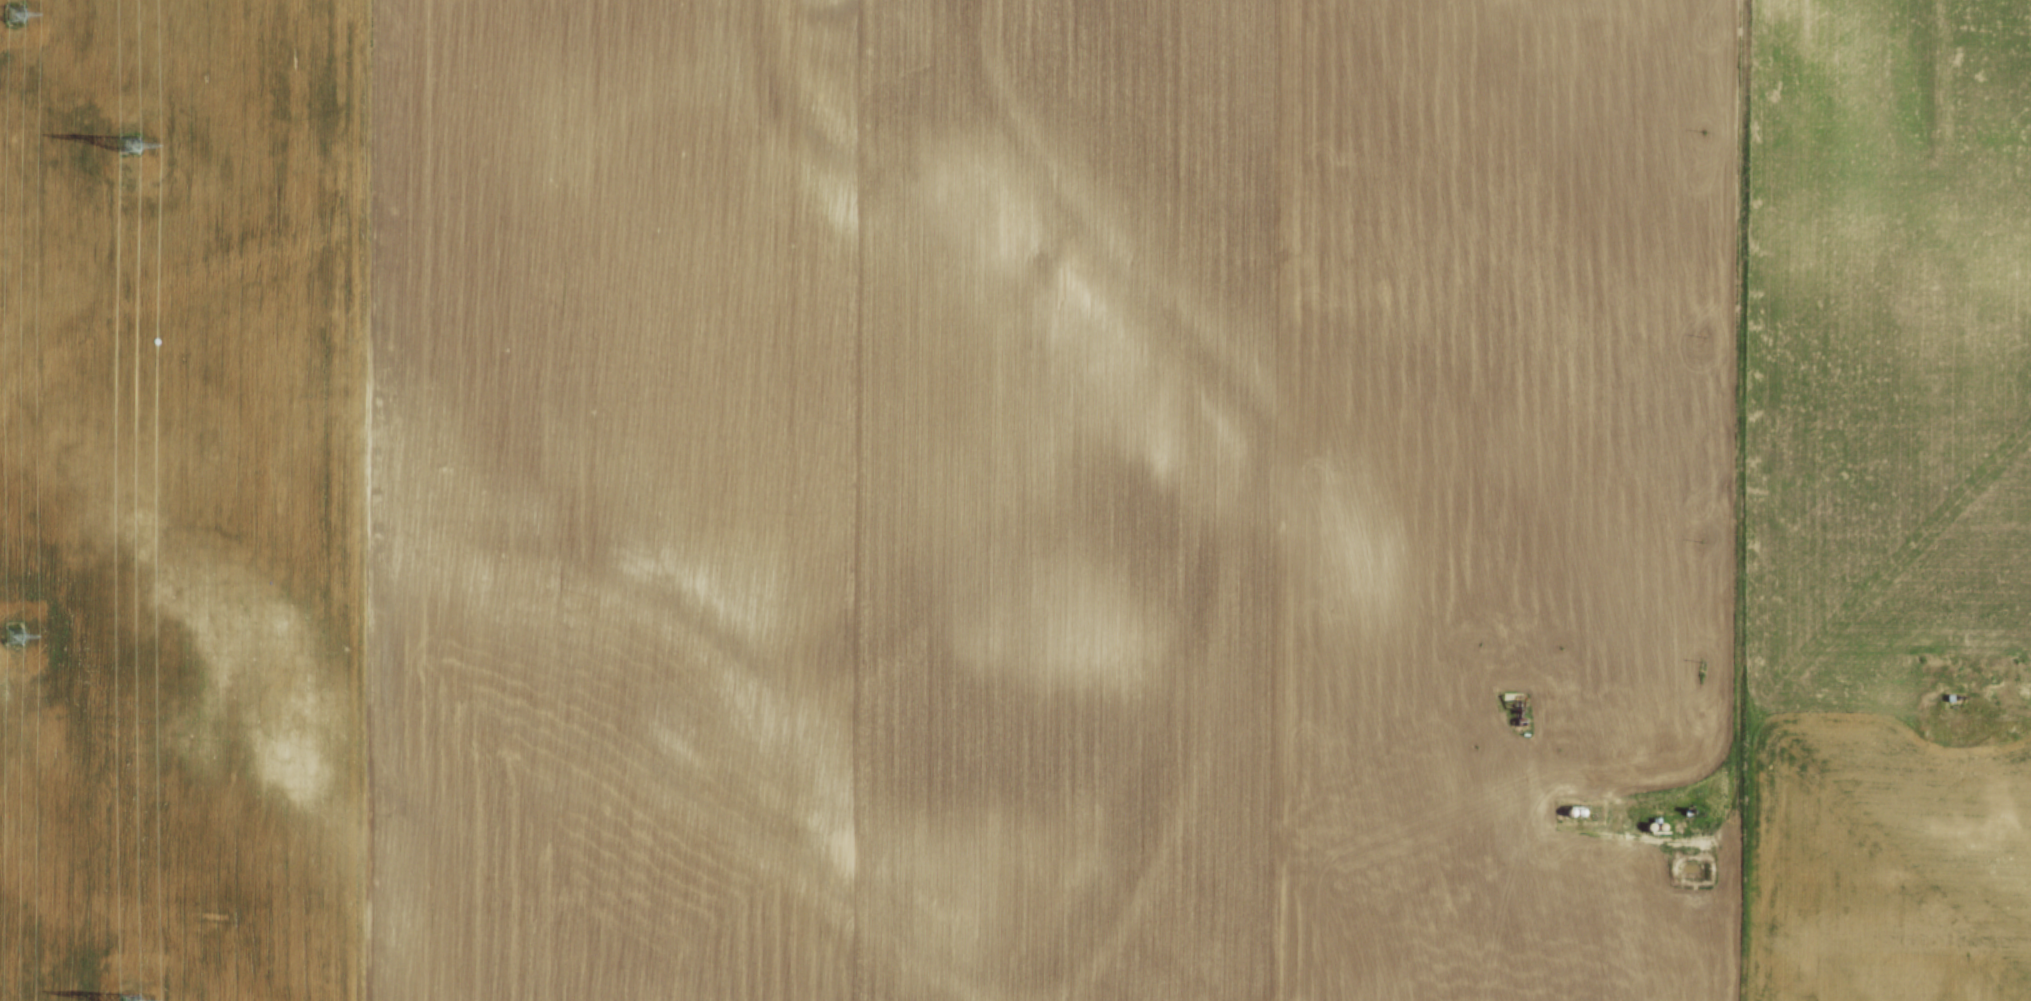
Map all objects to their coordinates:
power tower: (3, 8)
power tower: (126, 146)
road: (1741, 455)
crop: (994, 494)
power tower: (0, 634)
power tower: (128, 1000)

